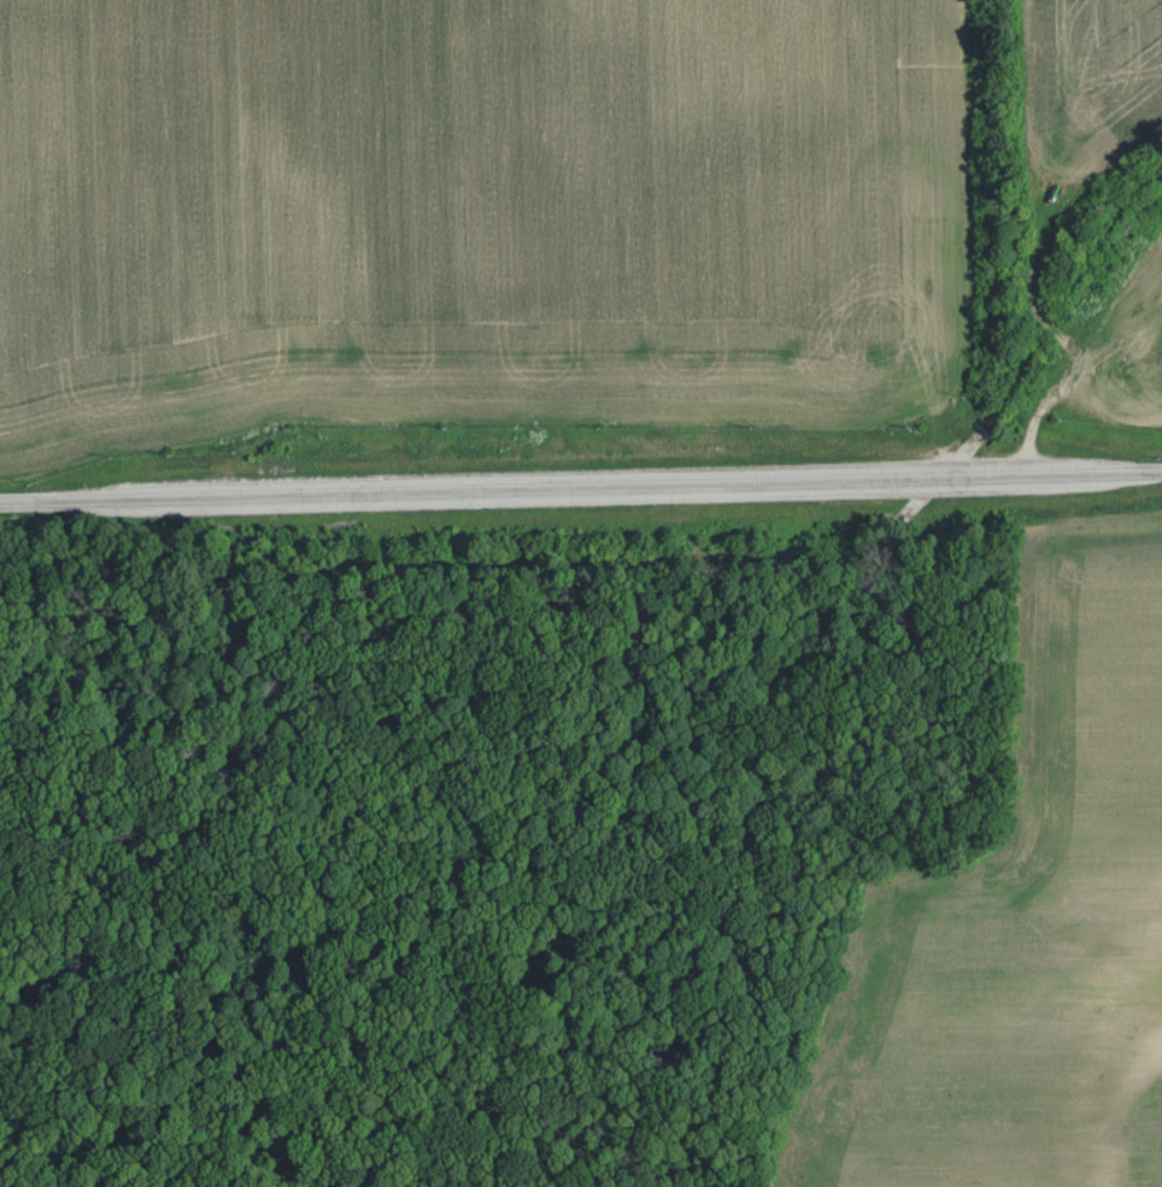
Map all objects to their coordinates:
road: (581, 484)

